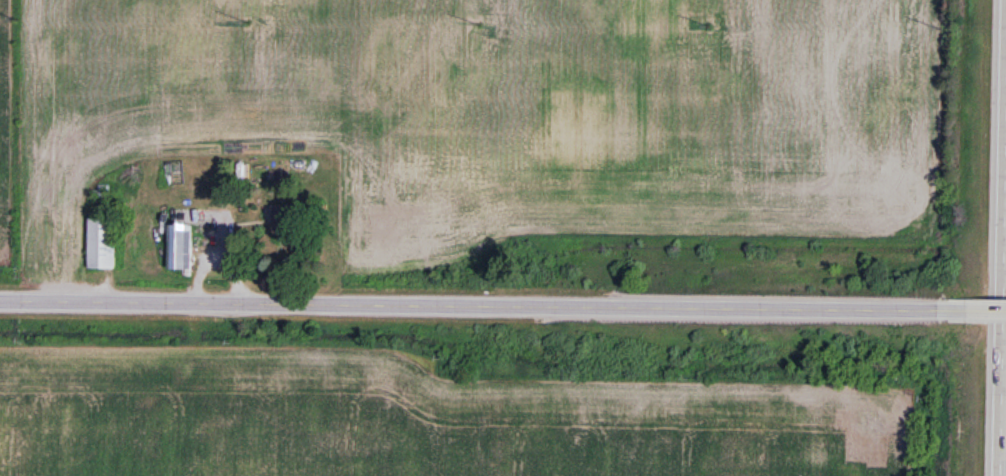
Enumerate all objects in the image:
building: (282, 221)
road: (1001, 237)
building: (101, 242)
building: (180, 245)
road: (481, 303)
road: (984, 308)

